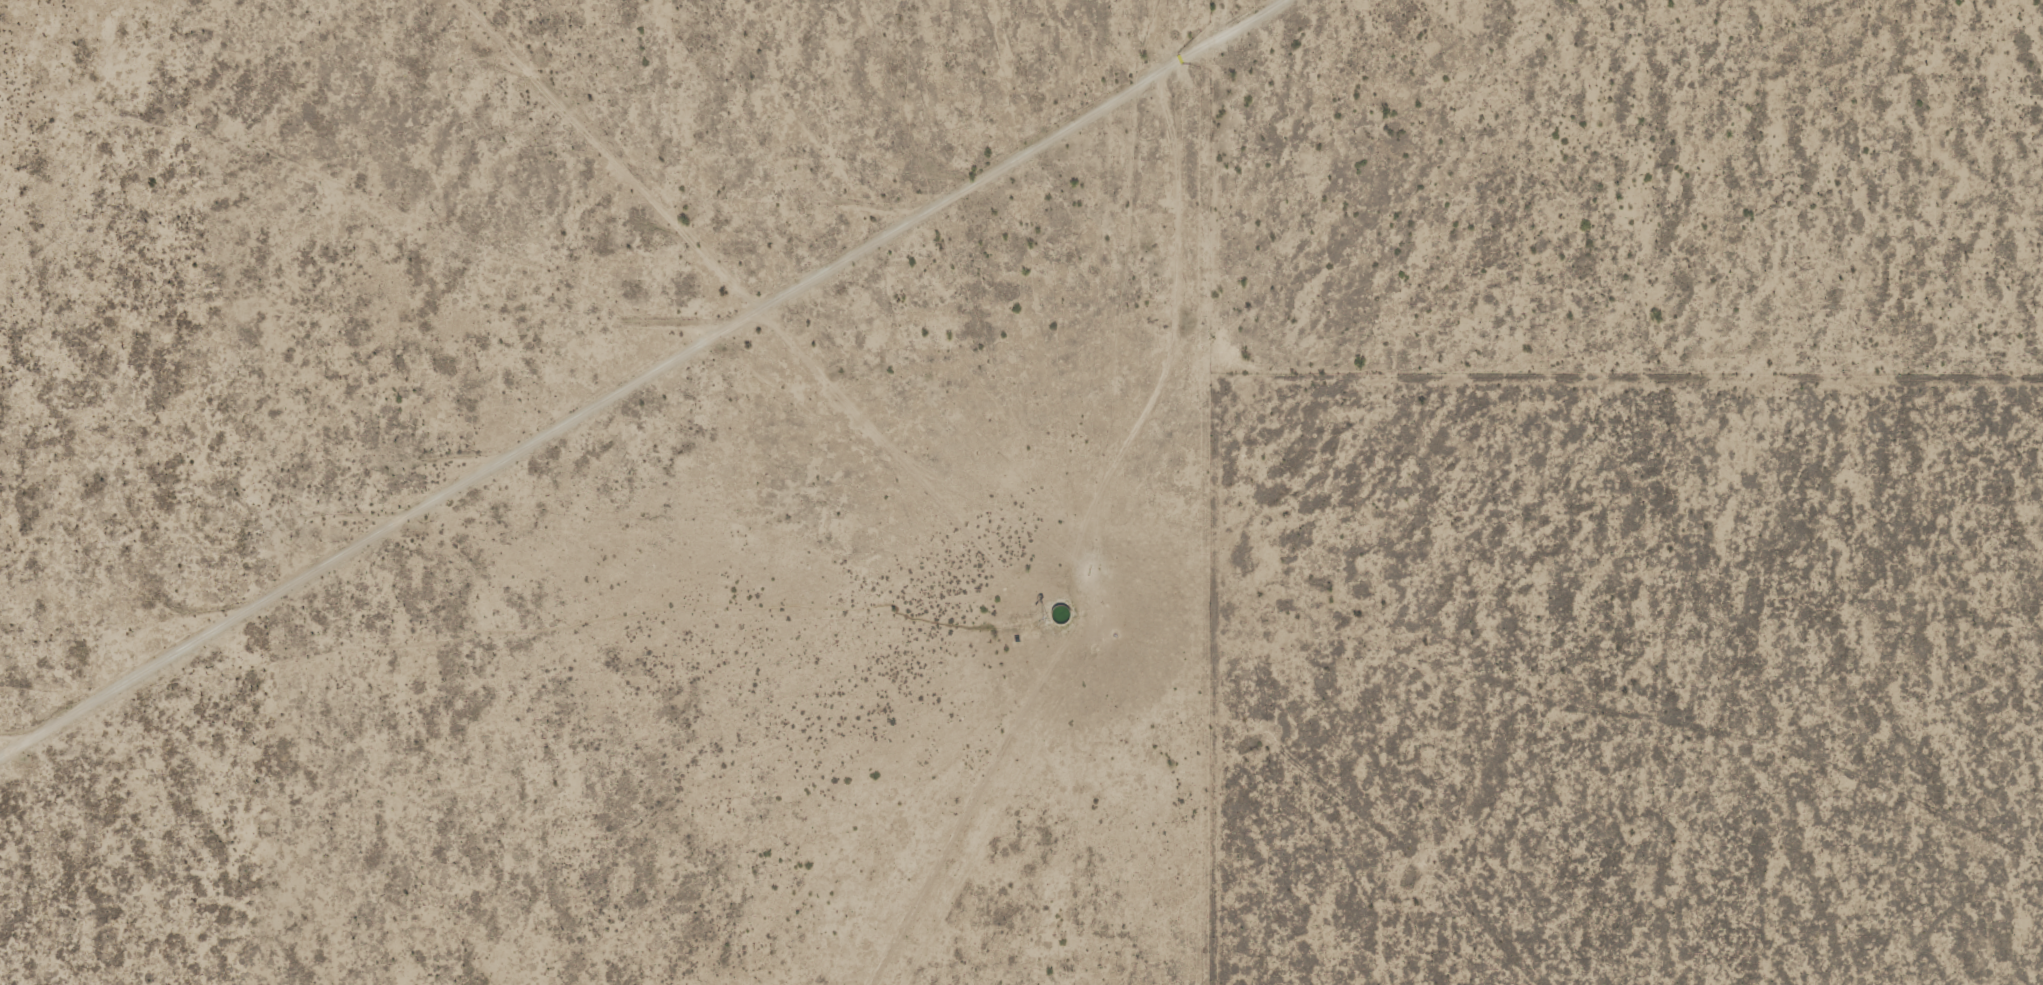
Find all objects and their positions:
road: (1013, 173)
road: (966, 356)
road: (1126, 615)
road: (962, 799)
road: (1334, 836)

